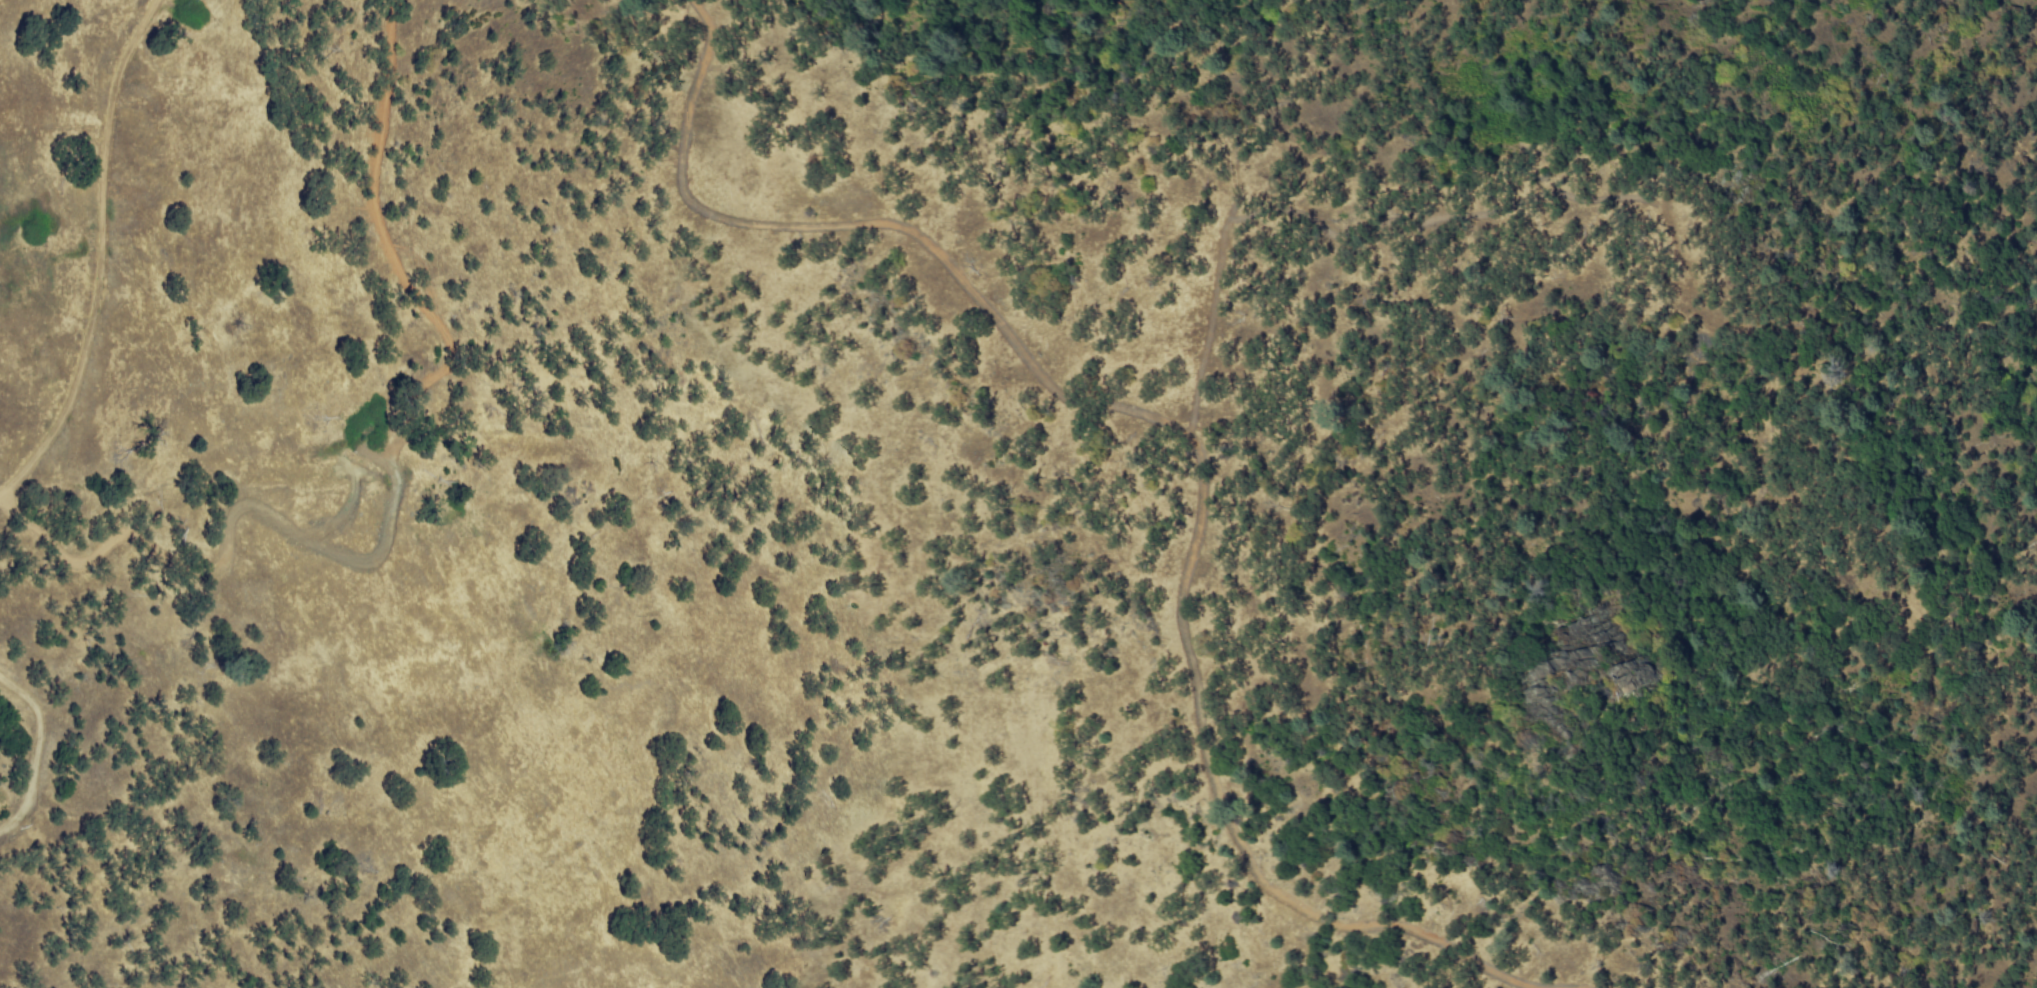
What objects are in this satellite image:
building: (1605, 870)

